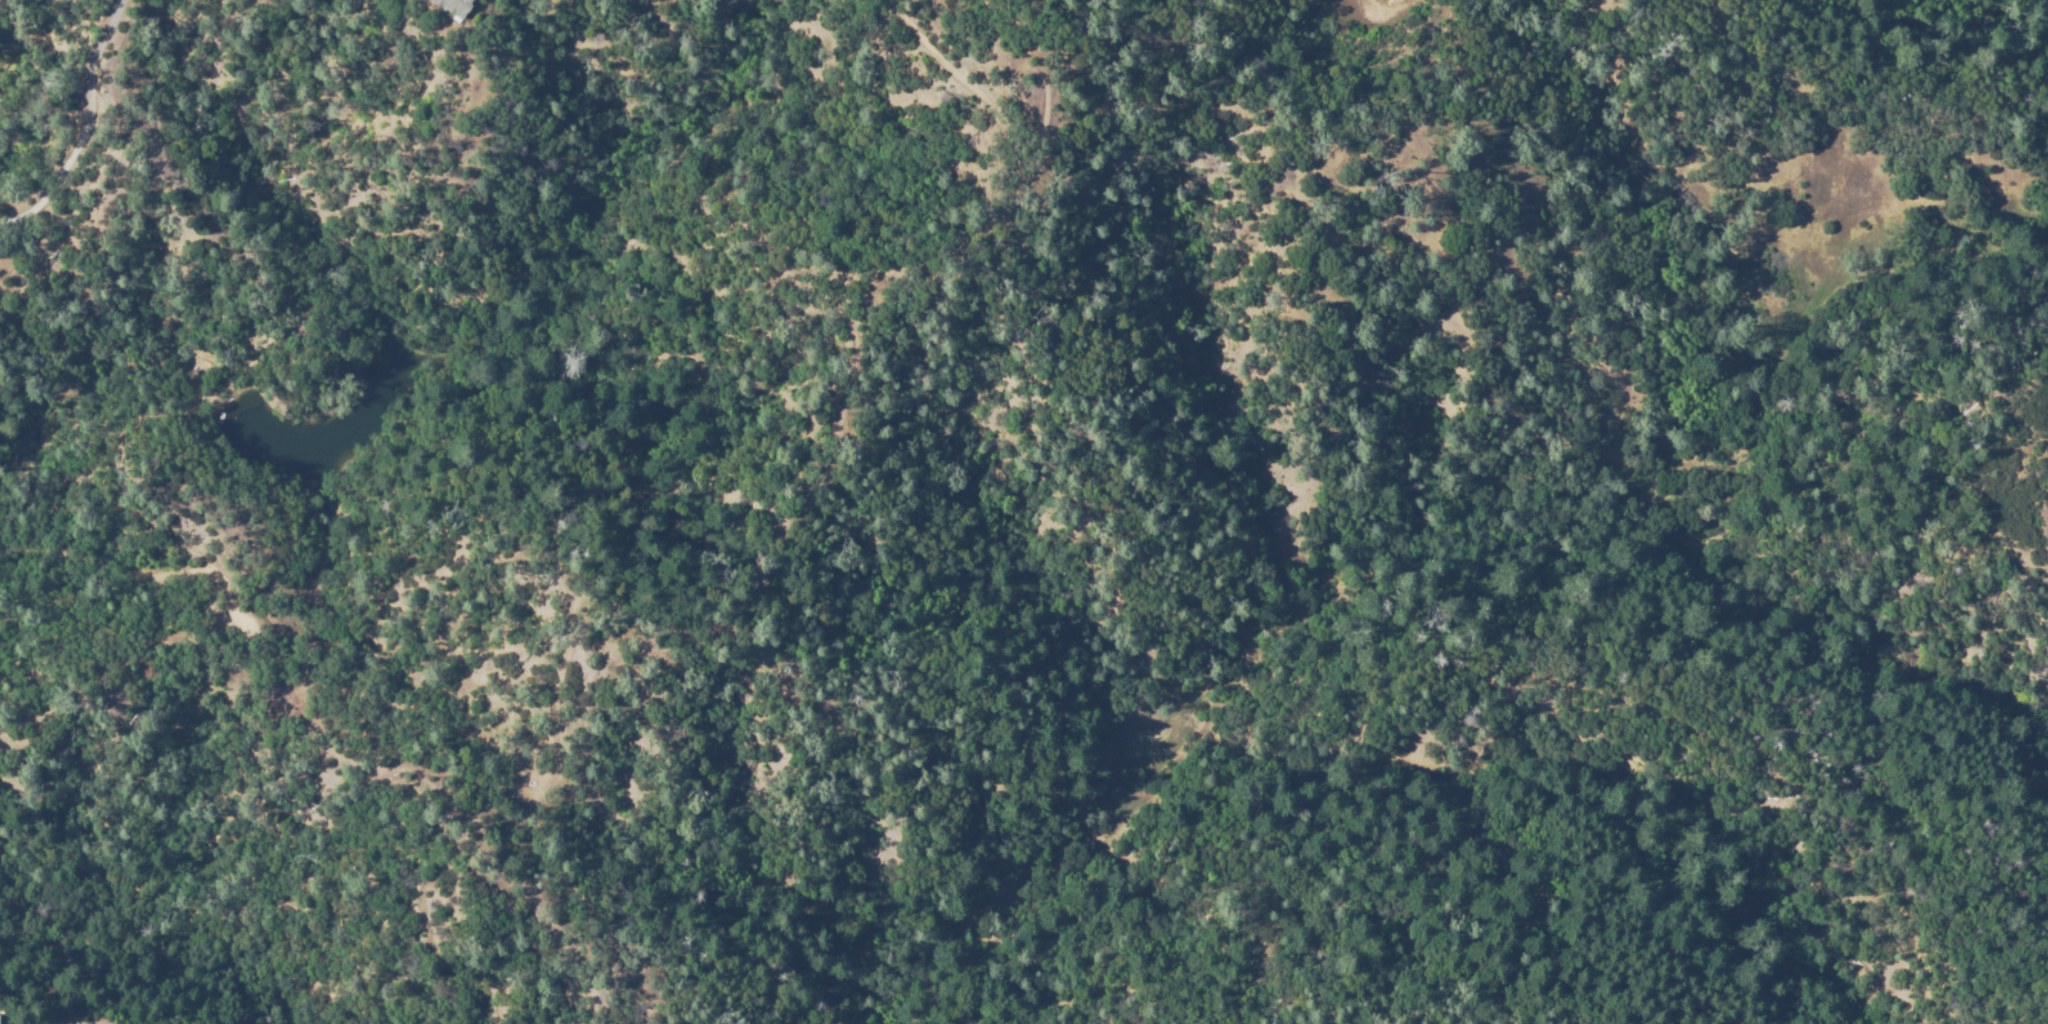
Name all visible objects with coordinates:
building: (455, 7)

